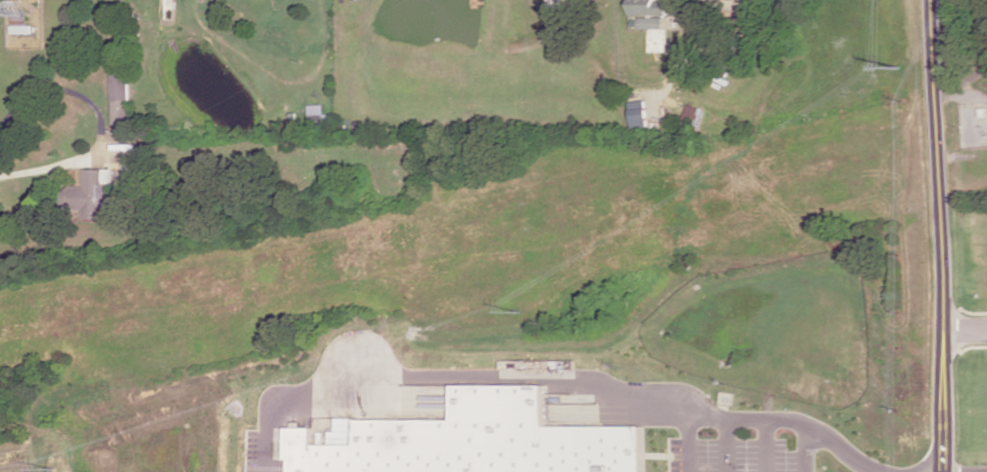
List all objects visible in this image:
building: (648, 7)
building: (652, 22)
power tower: (901, 68)
road: (963, 76)
building: (118, 101)
building: (637, 113)
building: (694, 113)
building: (316, 114)
road: (99, 118)
building: (90, 192)
road: (940, 235)
power tower: (528, 309)
road: (964, 334)
road: (460, 378)
building: (563, 411)
road: (783, 425)
building: (483, 440)
road: (688, 448)
road: (728, 448)
road: (763, 448)
road: (802, 449)
parking lot: (254, 453)
parking lot: (741, 456)
power tower: (56, 465)

